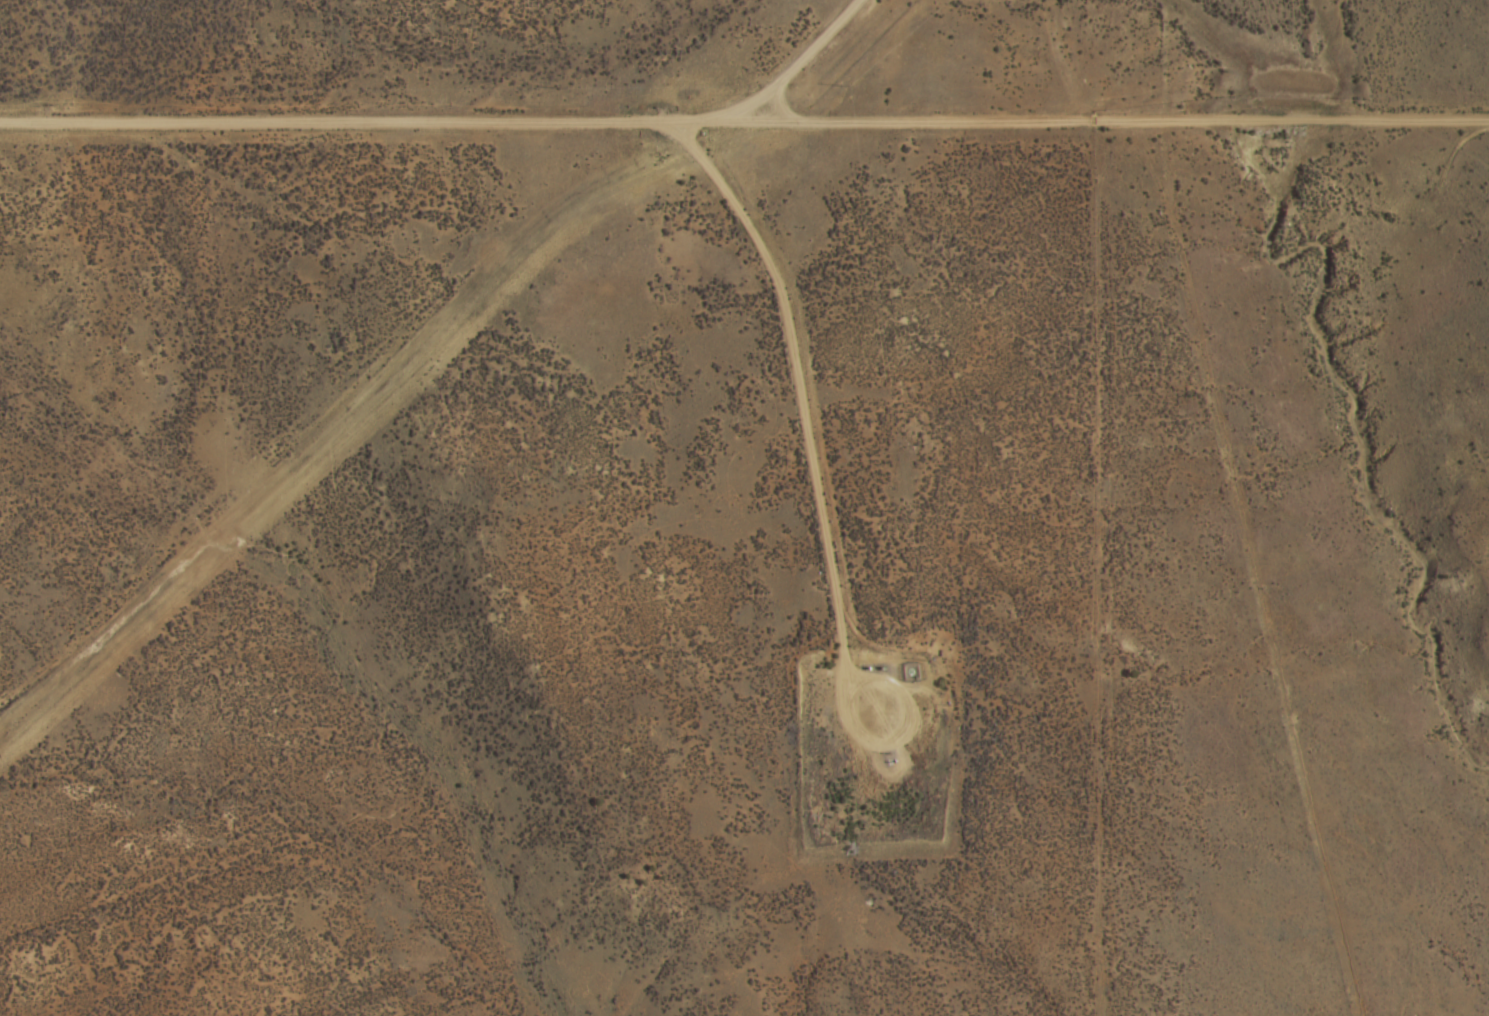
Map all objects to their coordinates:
road: (999, 58)
road: (744, 110)
road: (430, 357)

